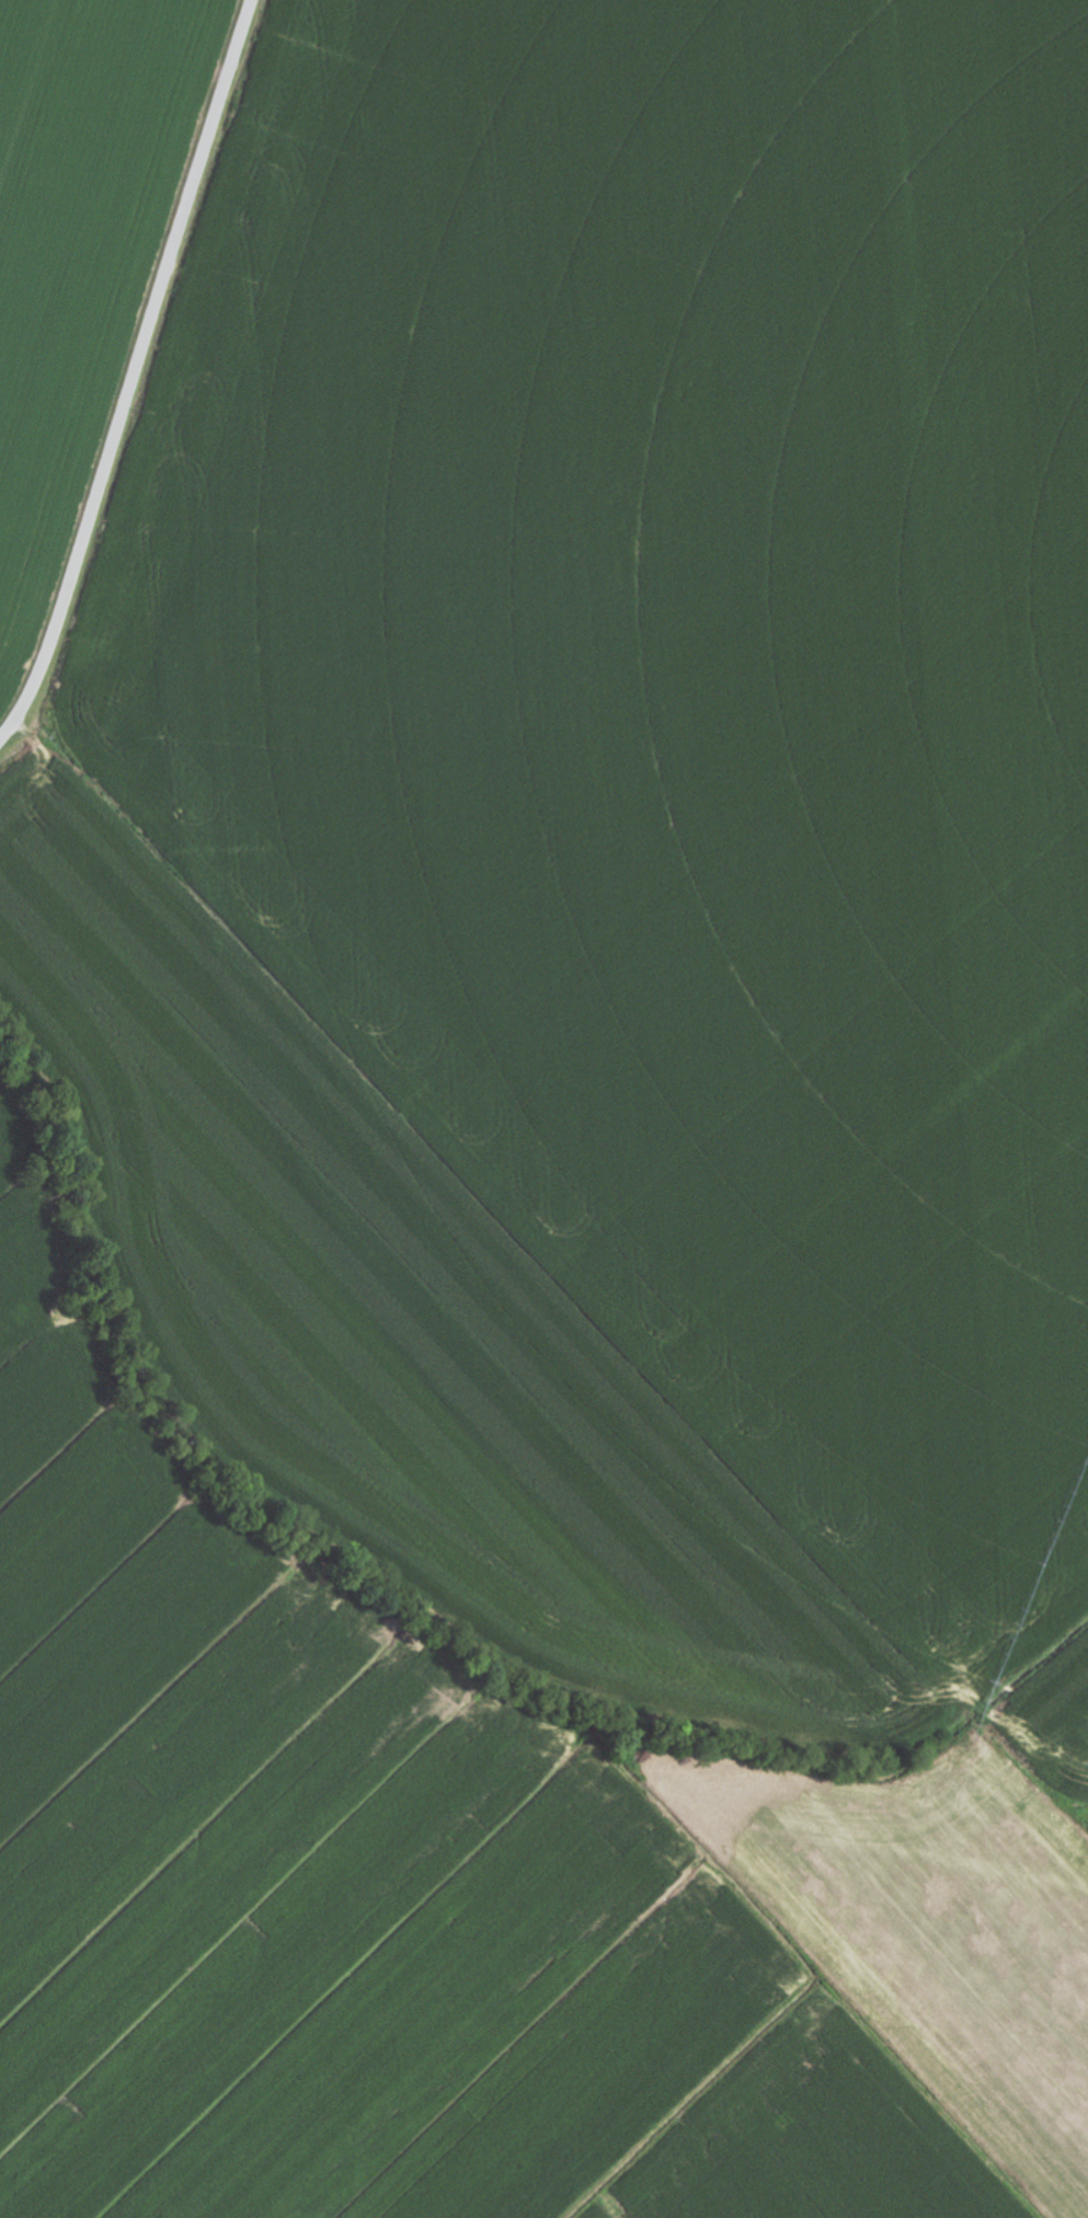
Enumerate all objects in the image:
road: (134, 372)

